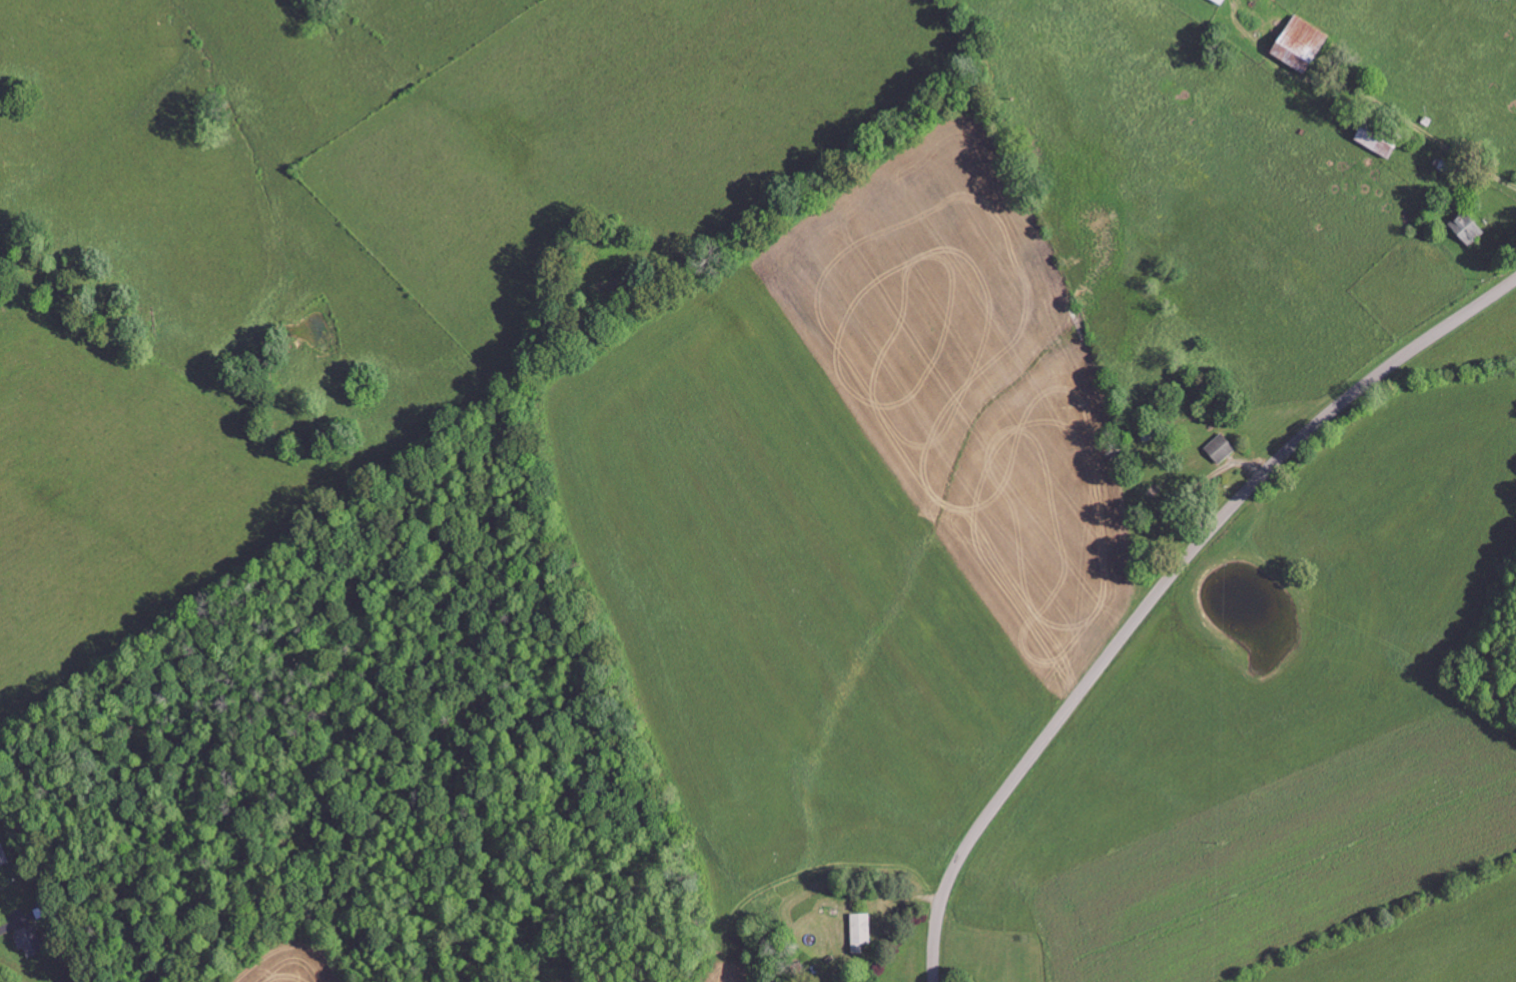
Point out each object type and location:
building: (1222, 1)
building: (1304, 43)
building: (1469, 227)
building: (1221, 448)
road: (1164, 586)
building: (3, 854)
building: (861, 930)
building: (31, 940)

